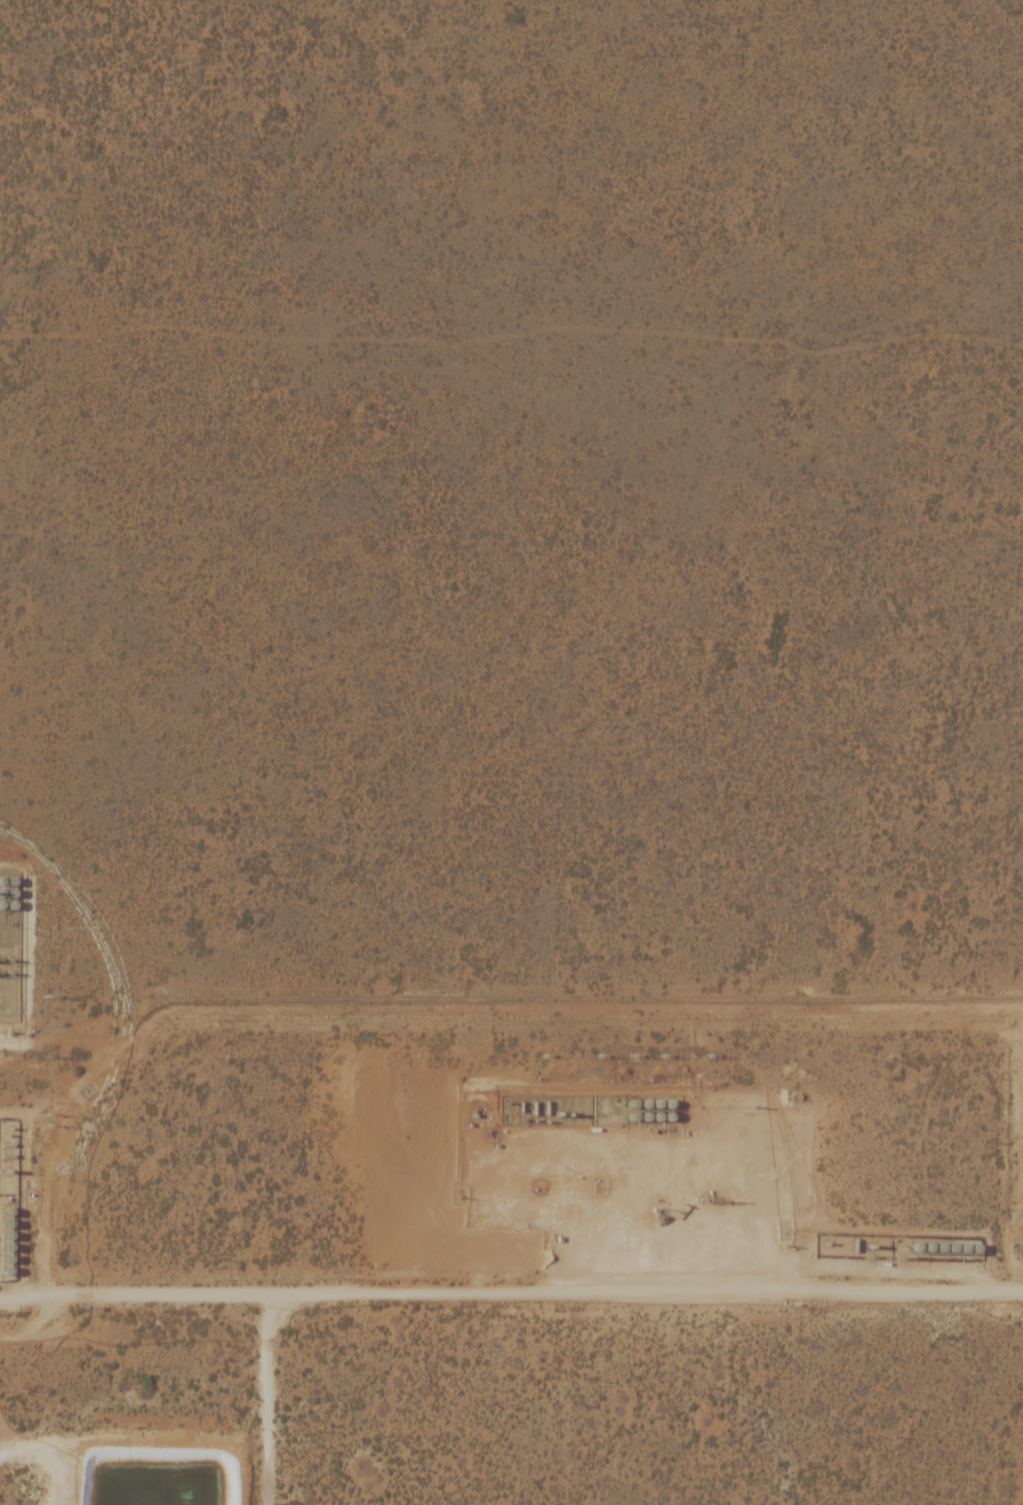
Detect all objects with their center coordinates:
road: (511, 1288)
road: (260, 1397)

